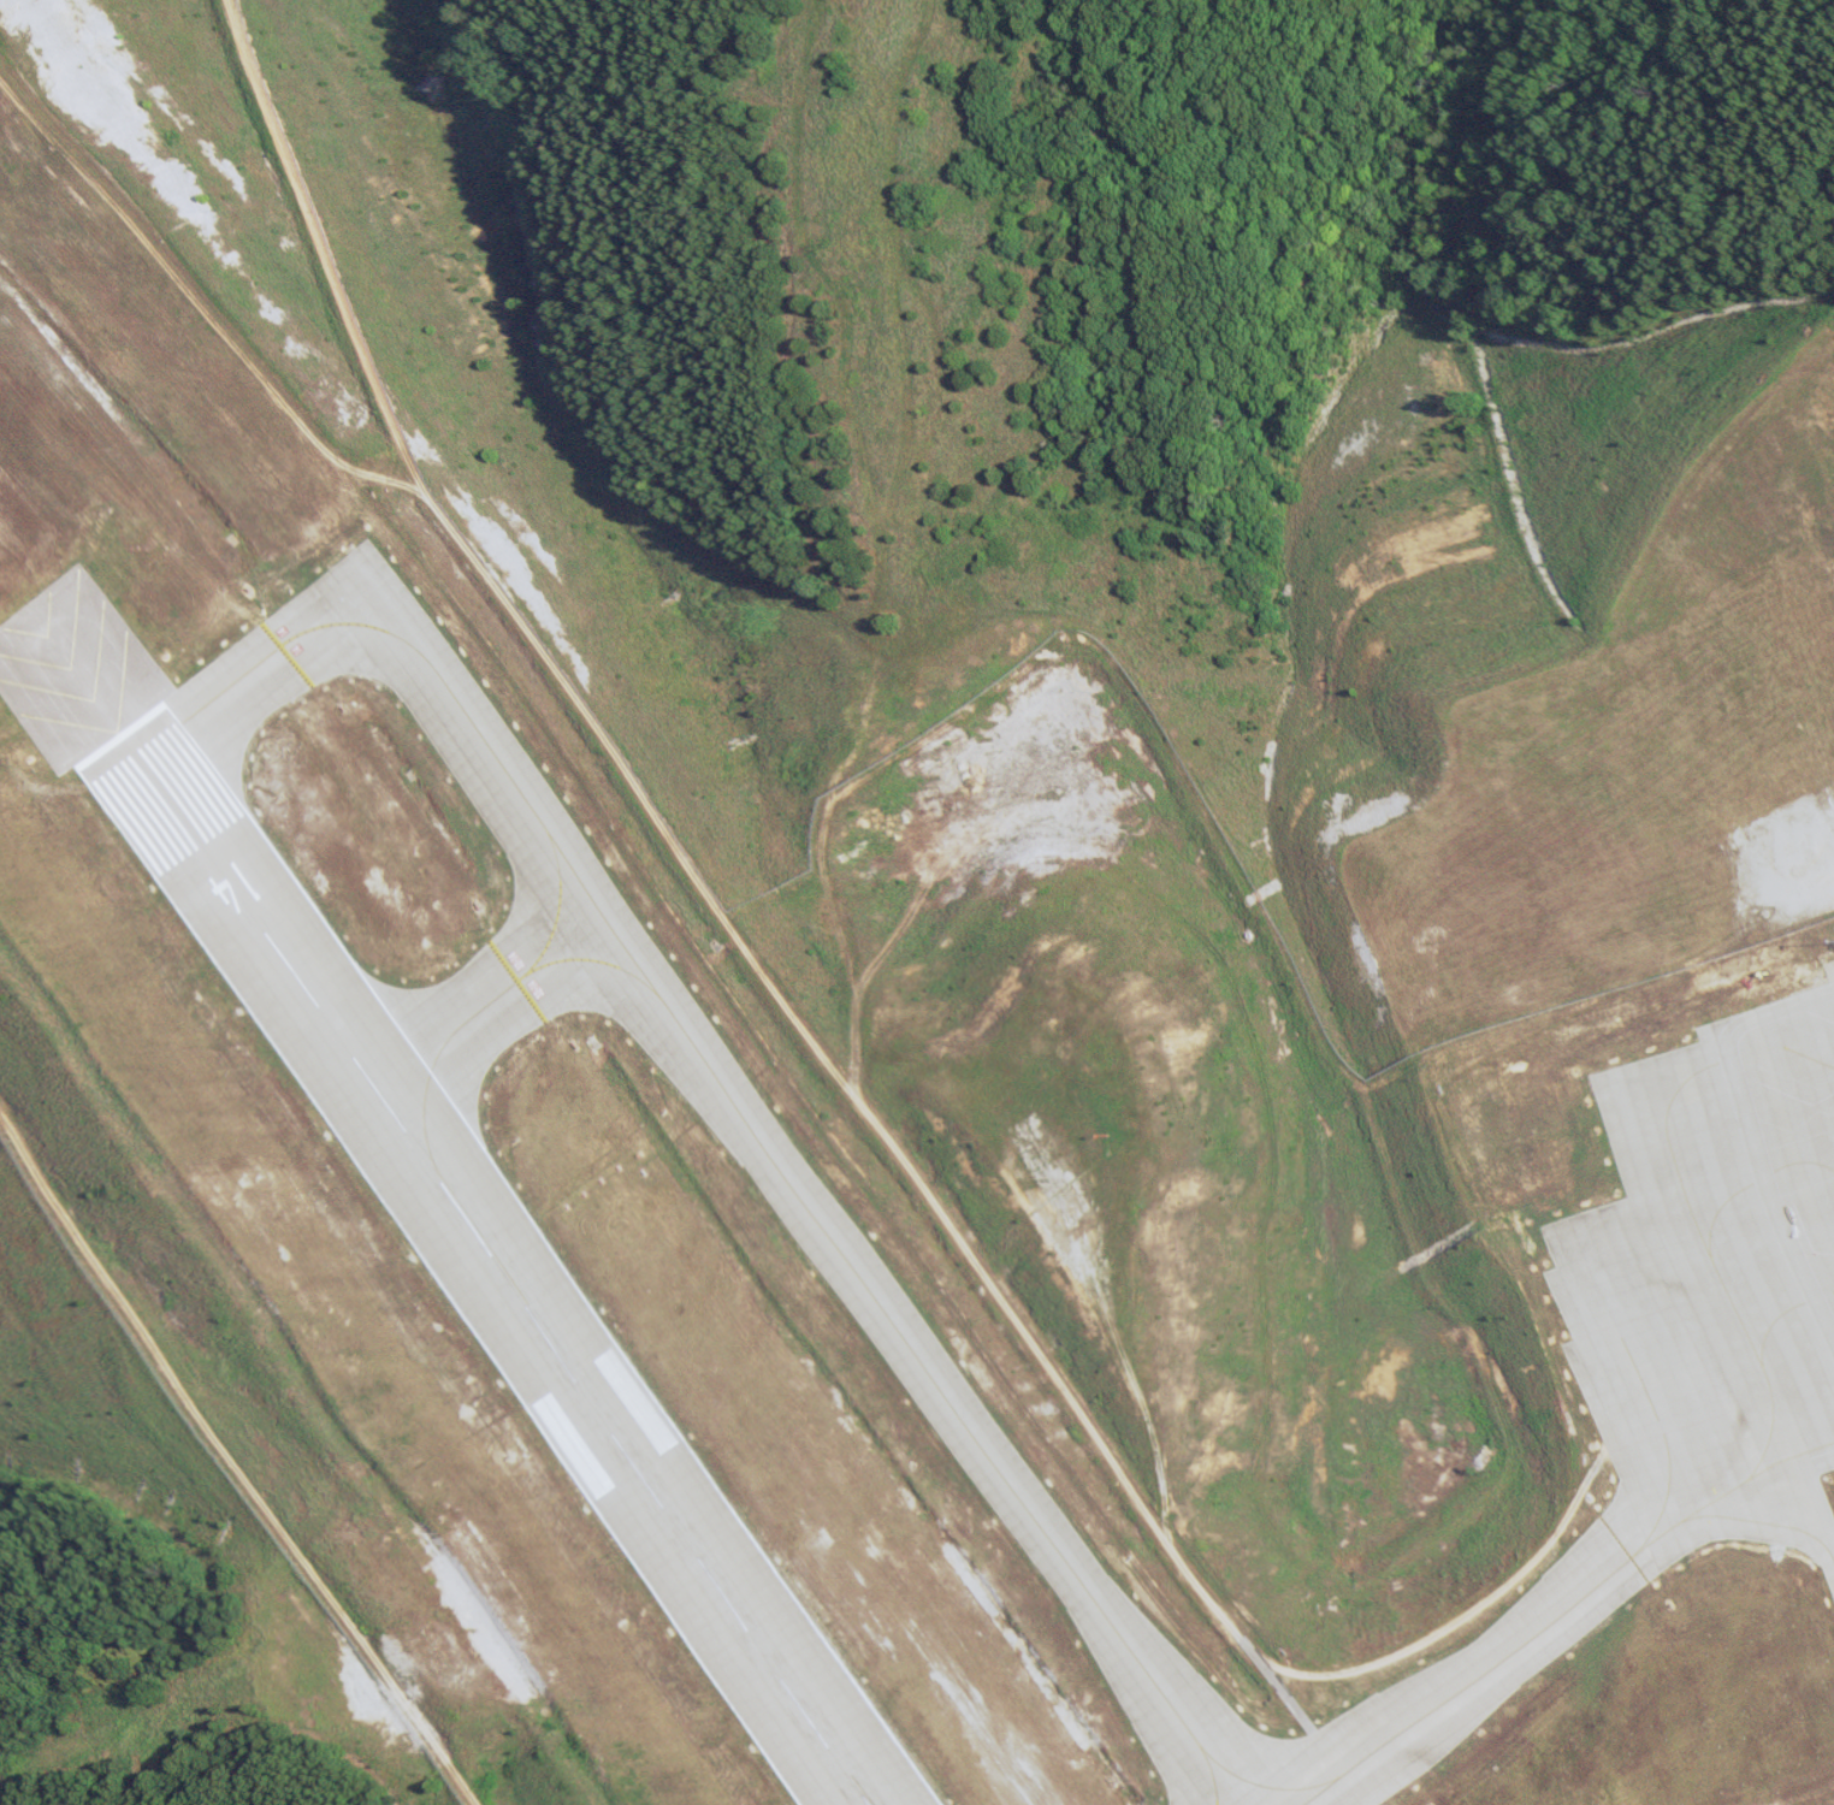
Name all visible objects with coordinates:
airport taxiway: (552, 909)
airport taxiway: (587, 960)
airport: (883, 1047)
airport taxiway: (698, 1055)
airport taxiway: (406, 1059)
airport runway: (469, 1271)
airport apron: (1712, 1272)
airport taxiway: (1763, 1367)
airport taxiway: (1679, 1452)
airport taxiway: (1763, 1525)
airport taxiway: (1548, 1618)
airport taxiway: (1185, 1775)
airport taxiway: (1238, 1787)

